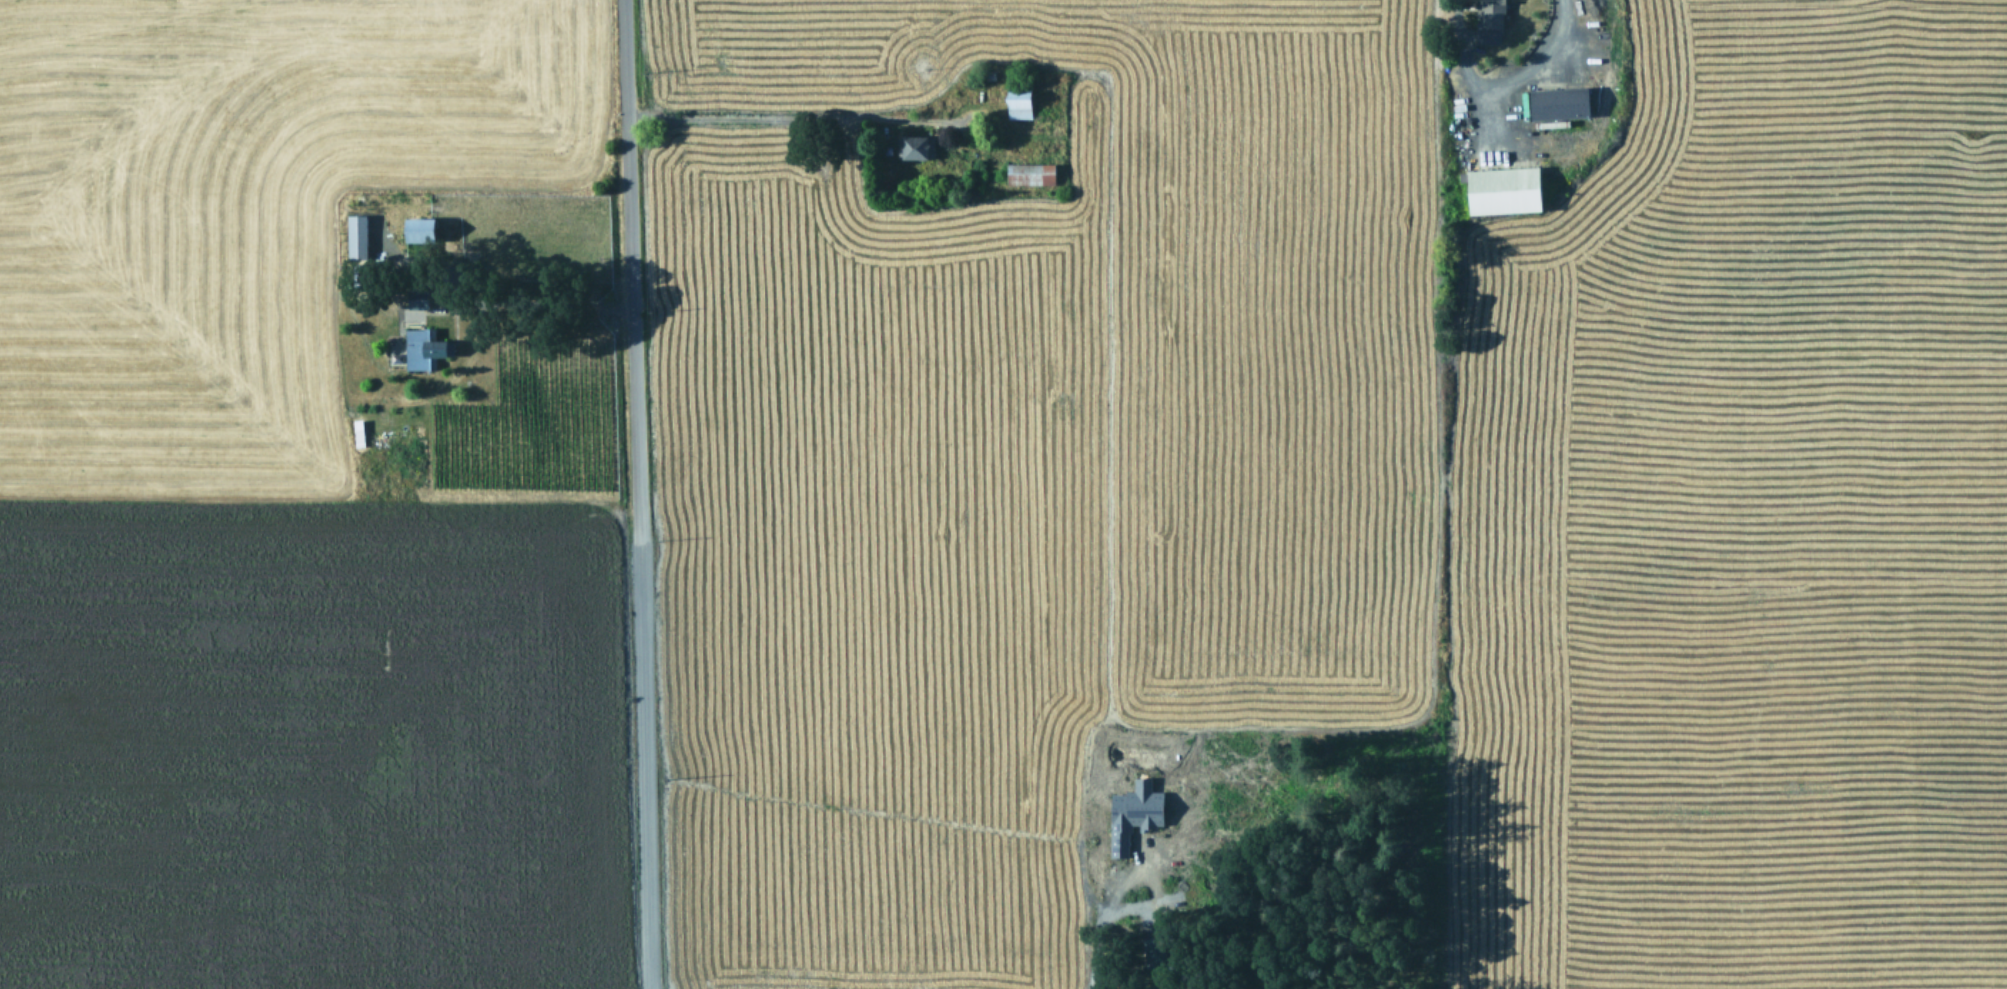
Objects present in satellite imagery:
building: (1489, 20)
road: (1500, 87)
building: (1016, 102)
road: (790, 116)
building: (914, 145)
building: (1028, 172)
building: (1501, 189)
building: (414, 228)
building: (354, 234)
road: (628, 271)
building: (415, 296)
road: (557, 309)
building: (423, 347)
crop: (1003, 494)
road: (643, 766)
building: (1132, 812)
road: (1096, 924)

